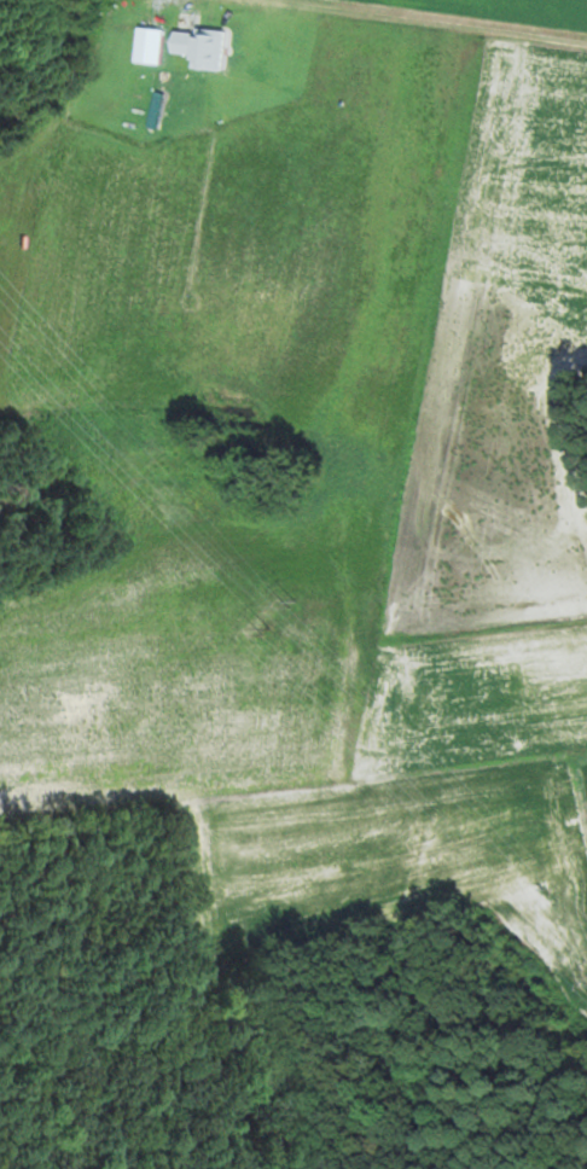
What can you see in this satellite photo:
road: (420, 19)
power tower: (295, 605)
power tower: (269, 629)

